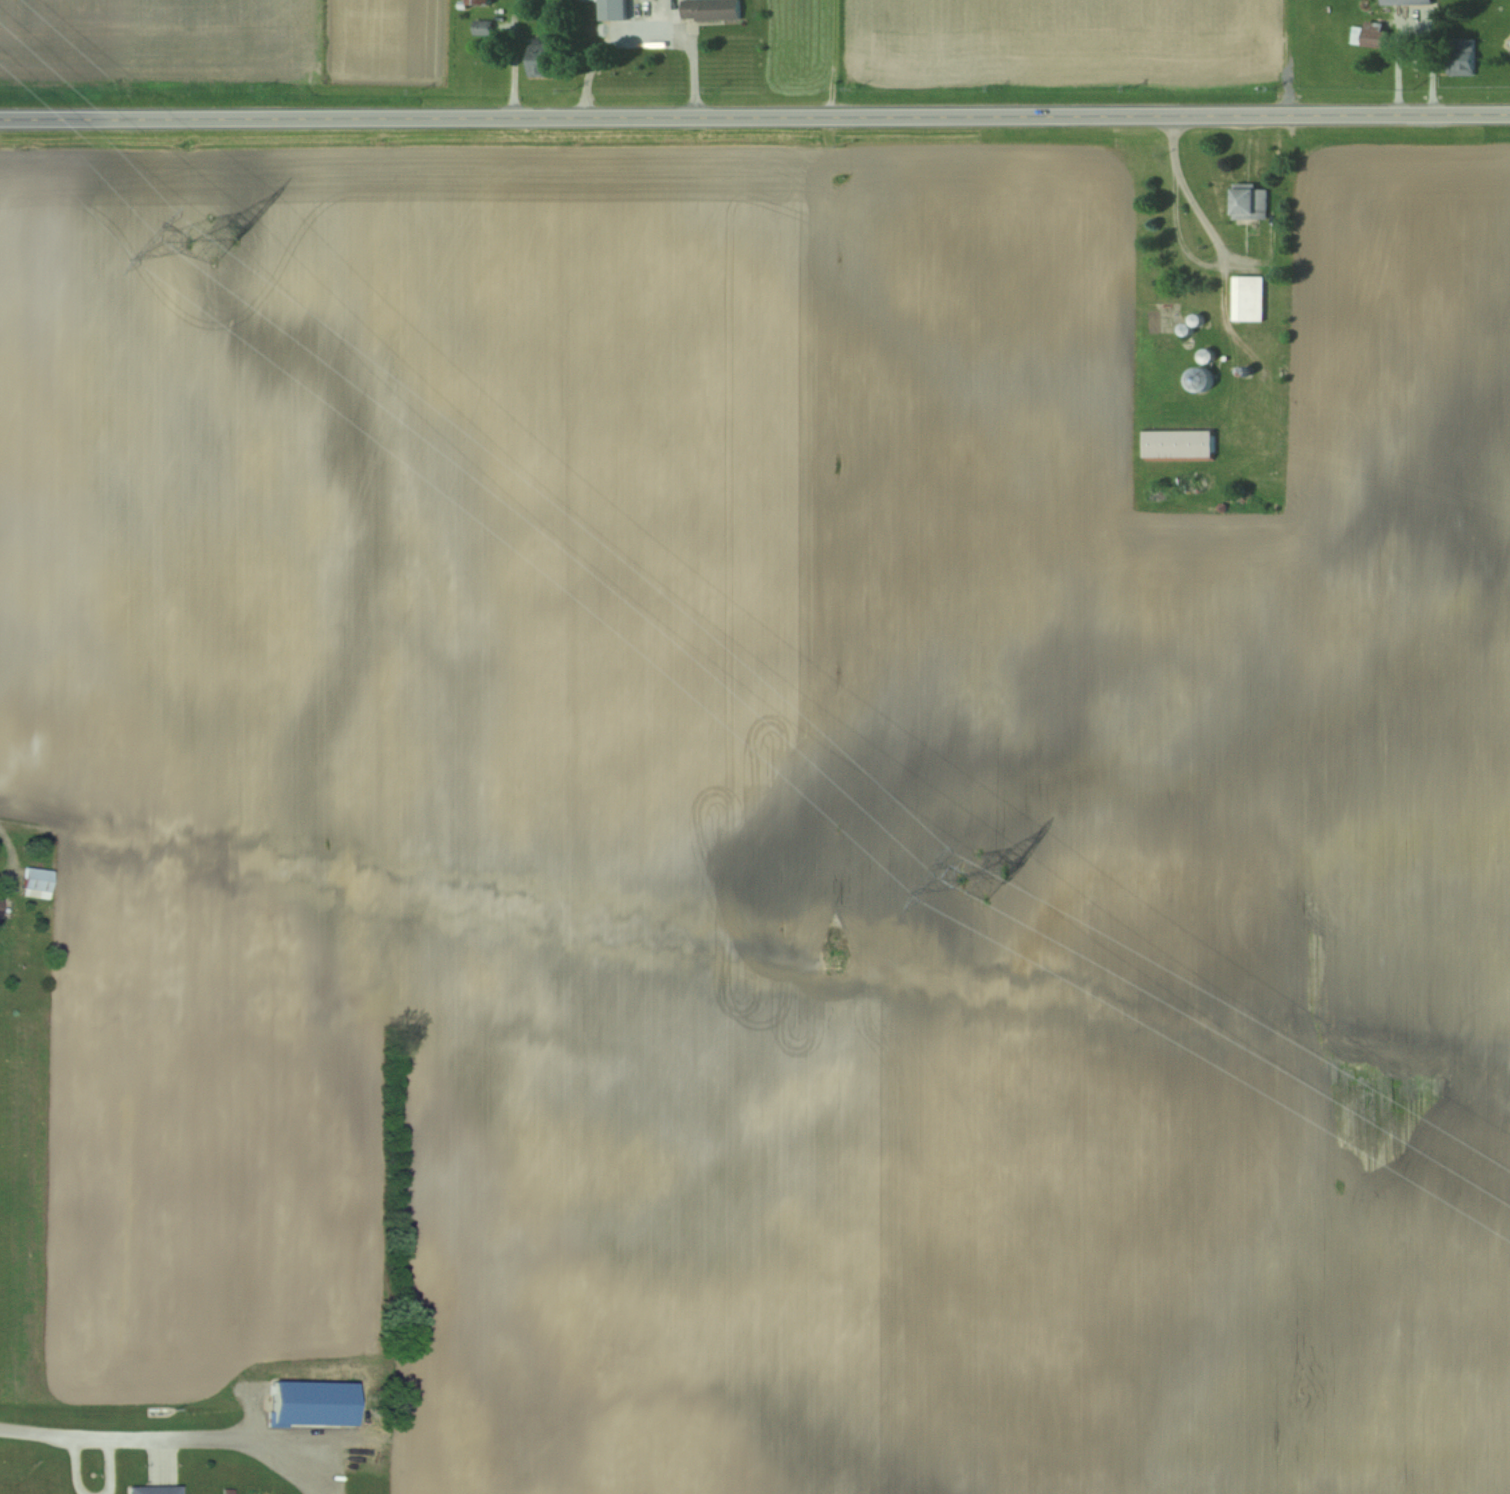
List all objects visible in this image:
building: (477, 1)
building: (611, 9)
building: (710, 9)
building: (481, 27)
building: (1368, 34)
road: (636, 40)
building: (1459, 56)
building: (538, 59)
road: (754, 116)
building: (1249, 201)
power tower: (214, 233)
road: (1176, 235)
road: (1211, 235)
building: (1247, 297)
building: (1198, 379)
building: (1177, 445)
power tower: (983, 874)
building: (38, 883)
building: (1, 905)
road: (168, 1436)
road: (76, 1465)
road: (112, 1465)
building: (154, 1489)

